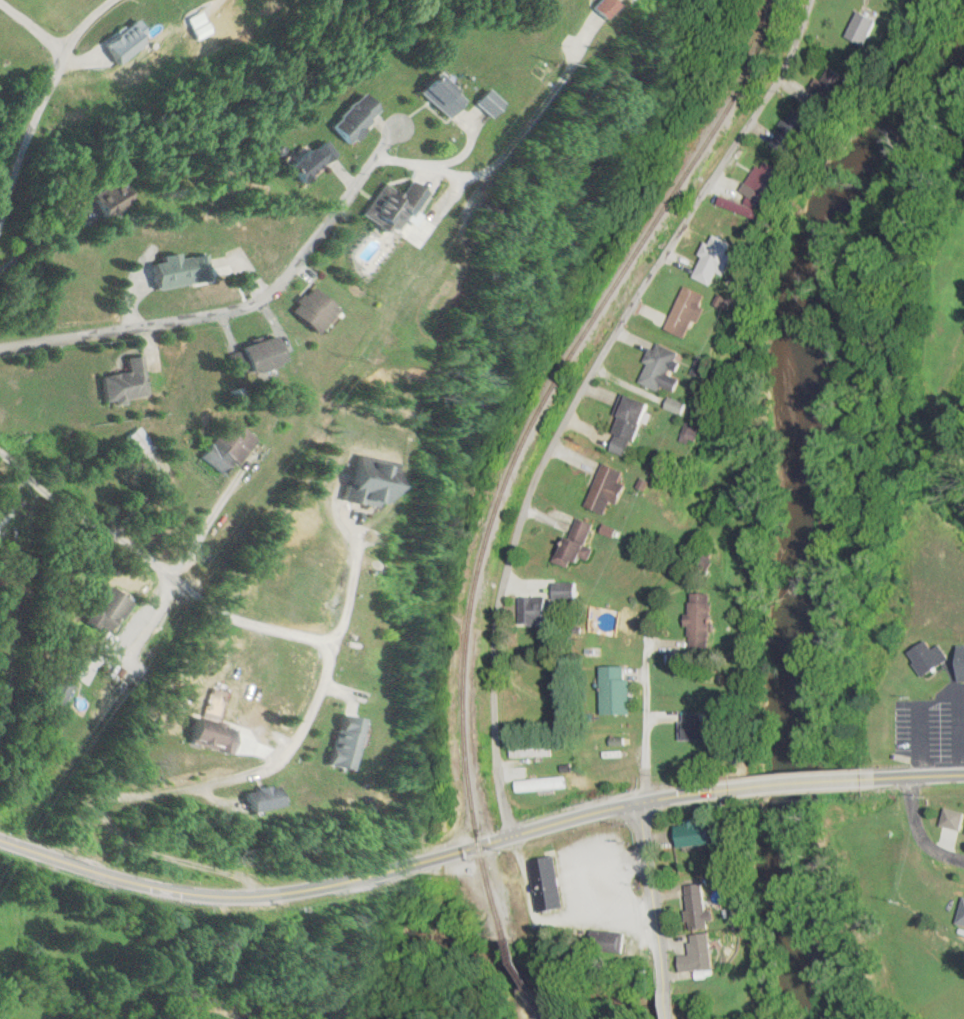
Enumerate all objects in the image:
building: (620, 7)
road: (33, 27)
building: (865, 27)
building: (129, 41)
power tower: (549, 68)
building: (834, 85)
road: (45, 95)
building: (446, 96)
building: (496, 104)
building: (360, 118)
building: (794, 132)
building: (314, 162)
building: (766, 181)
building: (115, 199)
building: (399, 206)
building: (717, 259)
building: (182, 271)
road: (241, 306)
building: (318, 309)
building: (690, 311)
building: (265, 355)
power tower: (339, 355)
building: (665, 369)
building: (126, 383)
road: (580, 395)
building: (636, 424)
railway: (526, 441)
building: (229, 447)
building: (377, 483)
building: (612, 489)
river: (818, 516)
building: (585, 543)
building: (567, 594)
building: (110, 610)
building: (538, 610)
building: (705, 616)
building: (927, 657)
building: (961, 673)
power tower: (111, 676)
building: (619, 690)
building: (61, 692)
road: (316, 708)
road: (648, 723)
building: (702, 728)
building: (218, 736)
building: (356, 743)
building: (535, 752)
road: (917, 774)
road: (797, 781)
building: (545, 784)
building: (273, 800)
road: (927, 826)
building: (702, 833)
road: (363, 877)
building: (549, 883)
building: (702, 906)
road: (654, 913)
building: (613, 940)
building: (703, 953)
railway: (521, 964)
railway: (538, 1006)

